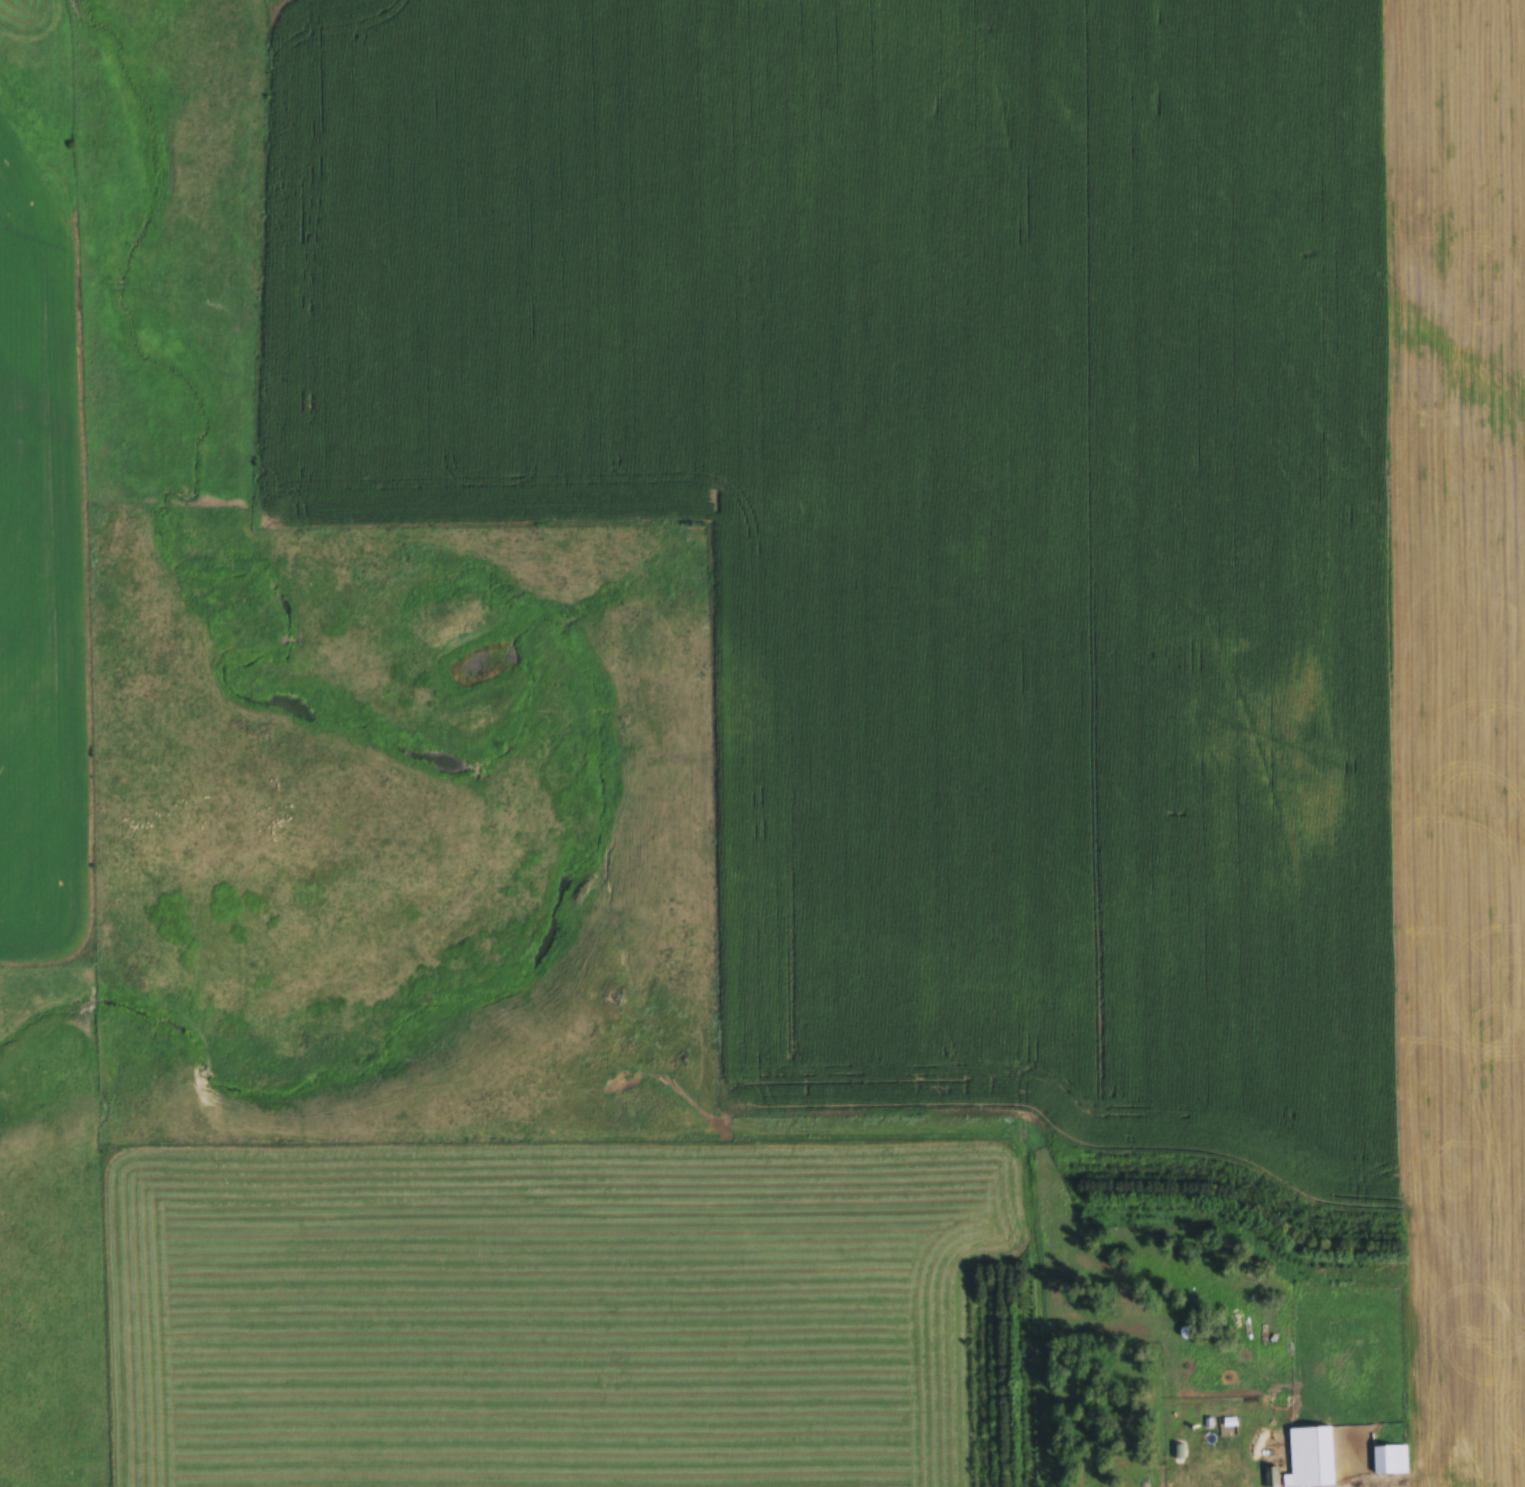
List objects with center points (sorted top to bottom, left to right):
building: (1312, 1458)
building: (1390, 1463)

